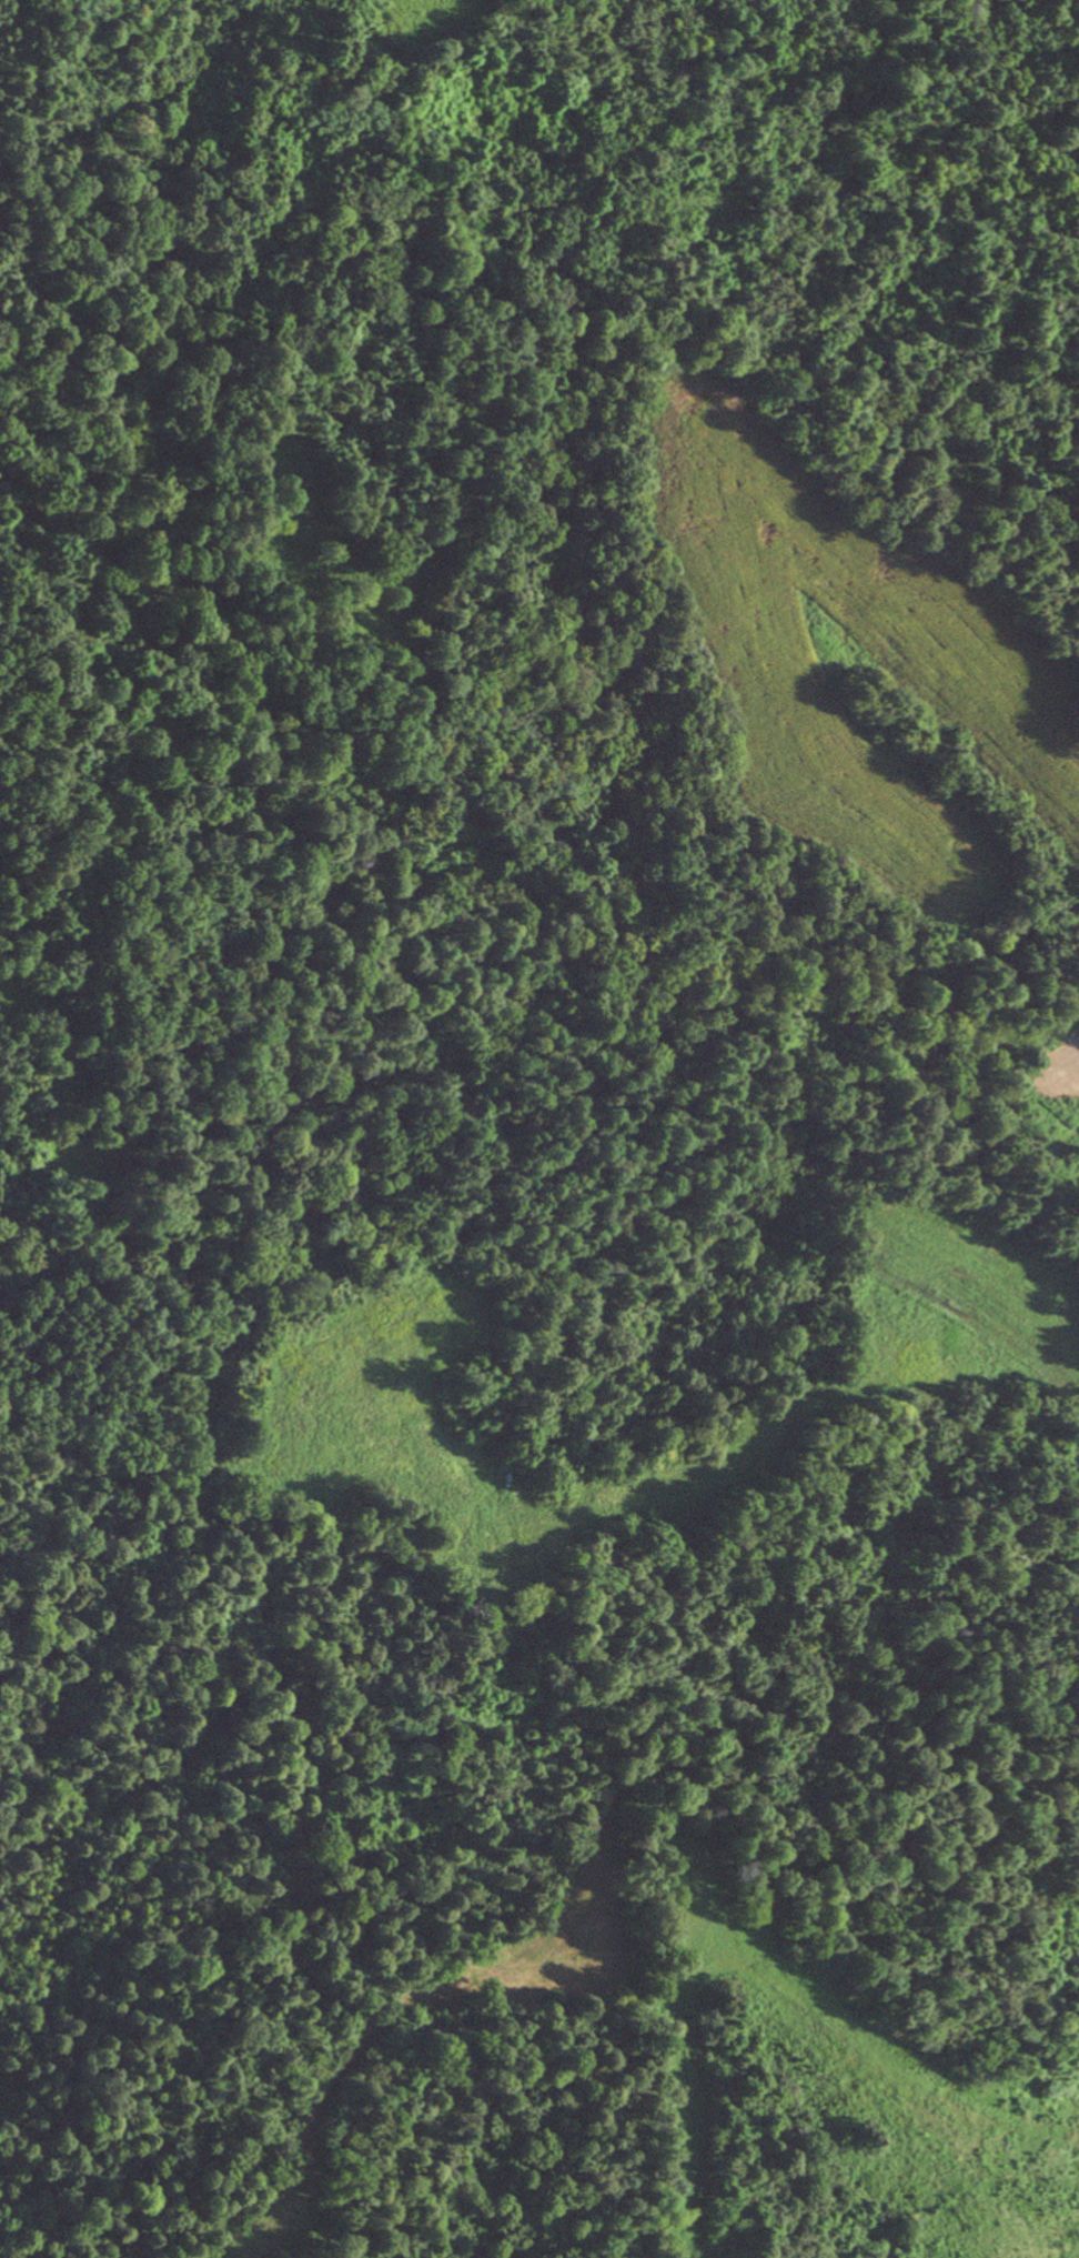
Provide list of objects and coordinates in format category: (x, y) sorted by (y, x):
road: (820, 1835)

